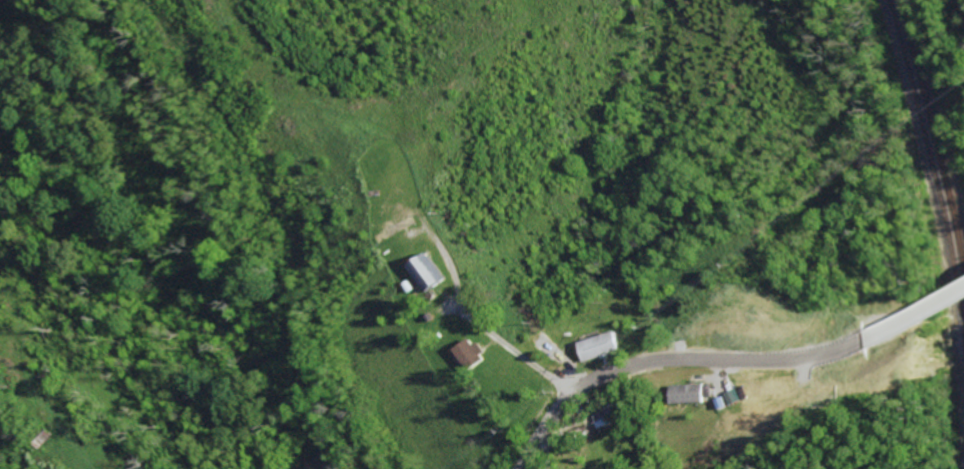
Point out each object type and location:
railway: (938, 166)
railway: (938, 204)
building: (398, 228)
building: (430, 270)
road: (913, 312)
road: (497, 337)
building: (602, 344)
building: (473, 352)
road: (670, 360)
building: (692, 392)
building: (726, 403)

